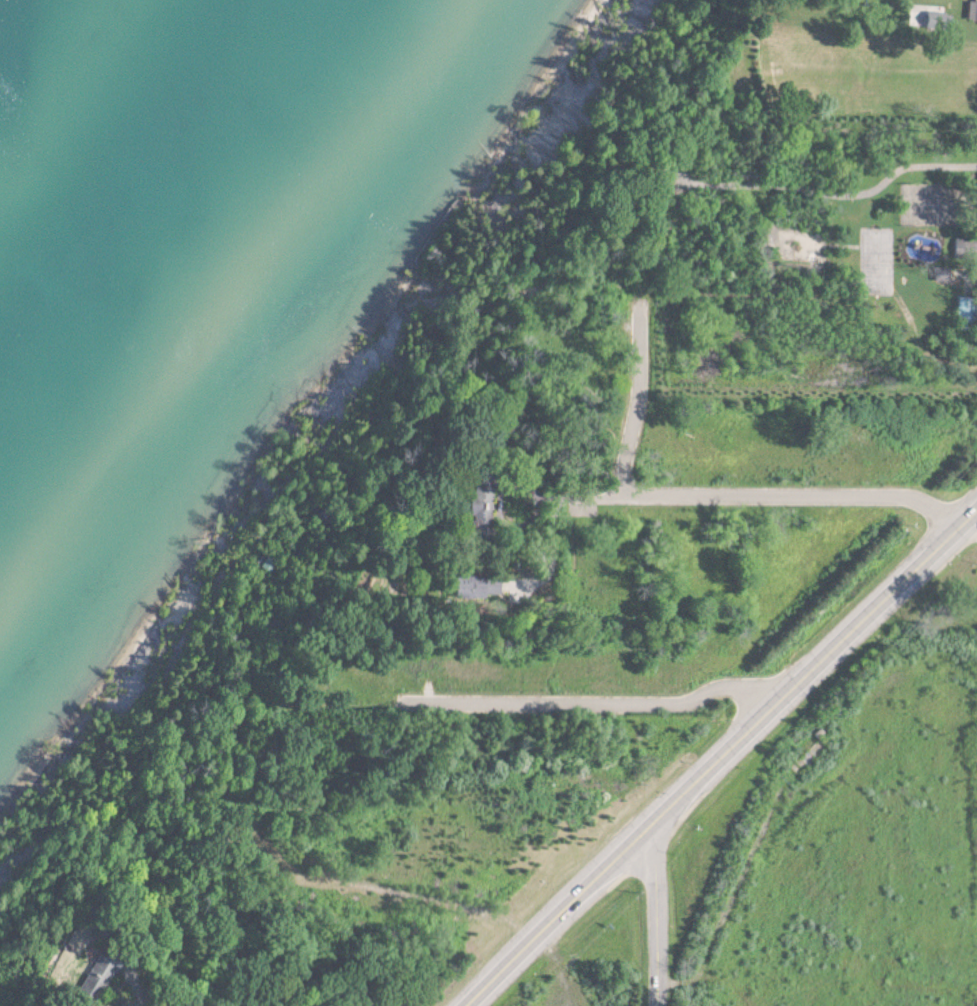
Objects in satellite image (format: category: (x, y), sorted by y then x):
building: (970, 10)
building: (931, 20)
road: (830, 199)
building: (964, 248)
road: (744, 299)
road: (766, 499)
building: (481, 590)
road: (722, 758)
road: (658, 913)
building: (90, 982)

